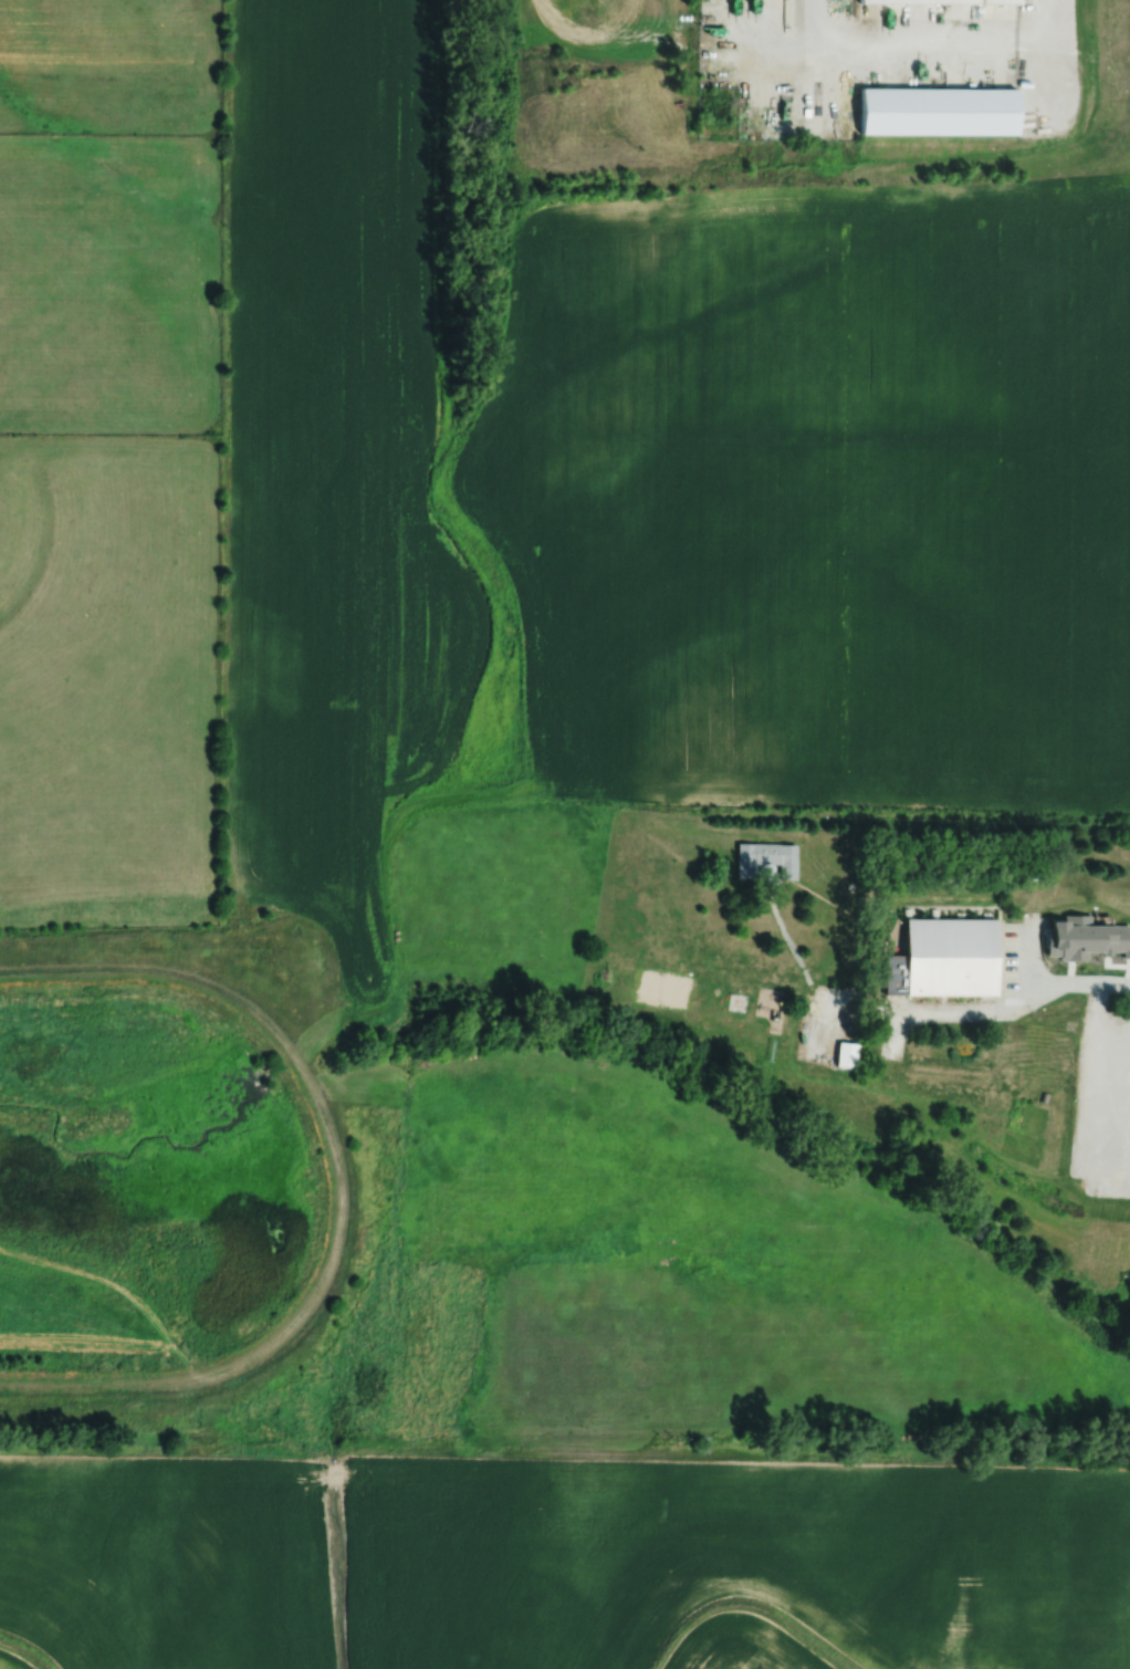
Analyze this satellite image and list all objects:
building: (941, 2)
road: (813, 21)
road: (876, 42)
road: (1043, 63)
road: (813, 90)
building: (943, 109)
building: (762, 860)
building: (1121, 901)
road: (1076, 982)
road: (1113, 1084)

